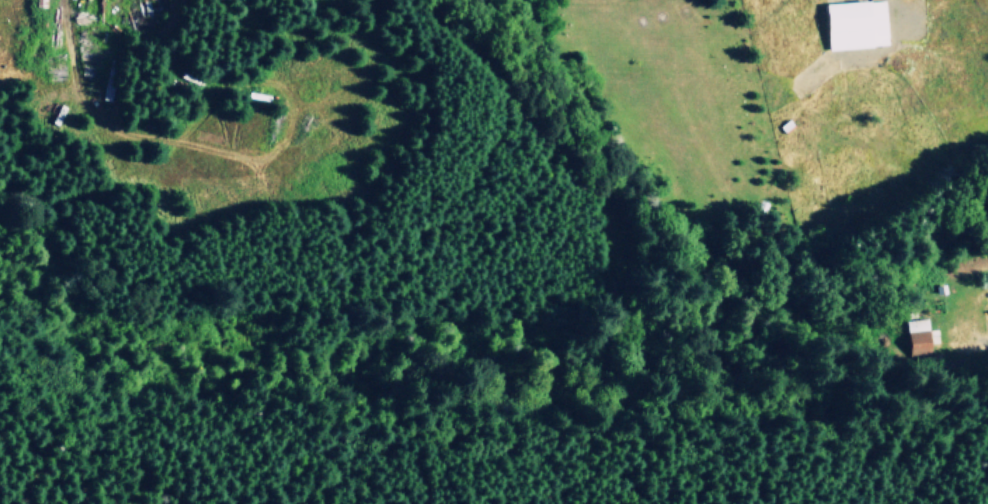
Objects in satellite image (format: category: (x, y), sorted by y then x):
building: (854, 24)
building: (919, 336)

